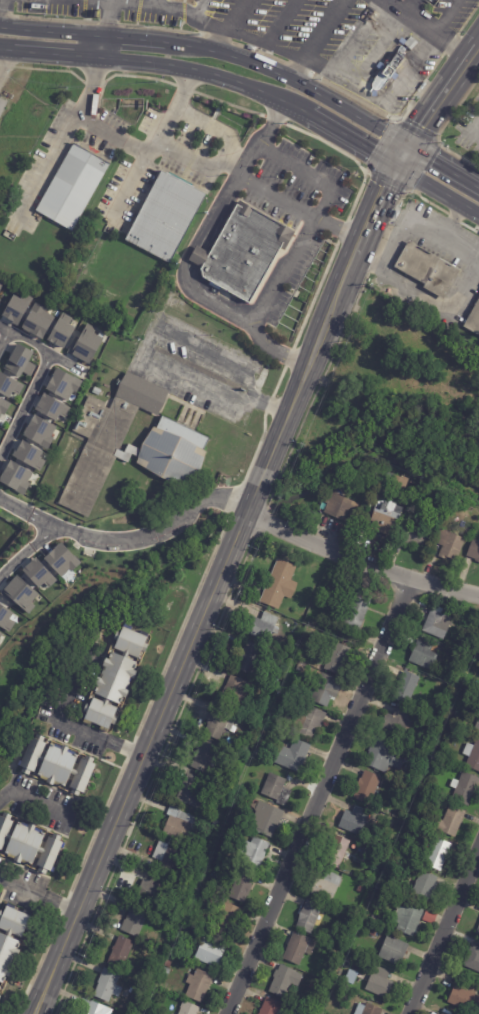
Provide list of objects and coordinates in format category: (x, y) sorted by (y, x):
road: (96, 1)
road: (411, 17)
road: (445, 17)
road: (110, 19)
road: (226, 24)
road: (316, 38)
road: (451, 46)
road: (478, 46)
road: (97, 48)
road: (214, 51)
road: (473, 53)
road: (6, 63)
road: (158, 64)
building: (393, 65)
road: (438, 101)
road: (474, 125)
traffic signals: (422, 126)
road: (349, 141)
road: (132, 143)
traffic signals: (368, 154)
road: (400, 155)
road: (198, 157)
traffic signals: (434, 158)
road: (439, 161)
road: (309, 175)
road: (474, 182)
traffic signals: (383, 185)
building: (72, 186)
road: (435, 191)
road: (286, 205)
building: (166, 216)
road: (370, 216)
road: (449, 221)
road: (417, 227)
road: (336, 232)
building: (244, 250)
road: (186, 264)
building: (428, 268)
building: (1, 284)
road: (422, 296)
building: (16, 308)
building: (473, 320)
building: (37, 321)
road: (3, 327)
building: (61, 331)
road: (22, 339)
building: (84, 344)
road: (278, 347)
road: (136, 358)
building: (19, 361)
road: (65, 364)
building: (62, 384)
building: (9, 385)
building: (96, 391)
road: (24, 405)
building: (3, 406)
building: (51, 407)
building: (39, 431)
building: (173, 445)
building: (28, 455)
building: (15, 477)
building: (391, 480)
building: (340, 506)
building: (472, 512)
building: (386, 518)
building: (414, 536)
road: (129, 539)
building: (450, 543)
building: (474, 550)
road: (27, 551)
building: (61, 560)
road: (361, 563)
building: (38, 573)
building: (280, 584)
building: (19, 594)
building: (356, 611)
building: (5, 618)
building: (438, 624)
building: (264, 626)
building: (0, 634)
road: (194, 642)
building: (0, 644)
building: (424, 655)
building: (249, 658)
building: (338, 658)
building: (116, 677)
building: (272, 678)
building: (406, 687)
building: (325, 690)
building: (235, 691)
building: (260, 715)
building: (272, 719)
building: (398, 720)
building: (309, 721)
building: (219, 723)
road: (82, 730)
building: (247, 745)
building: (446, 752)
building: (259, 753)
building: (292, 753)
building: (378, 753)
building: (473, 755)
building: (204, 756)
building: (235, 756)
building: (58, 765)
building: (367, 786)
building: (275, 787)
building: (464, 788)
building: (191, 791)
road: (315, 796)
building: (240, 799)
road: (33, 801)
building: (266, 819)
building: (355, 820)
building: (451, 821)
building: (180, 824)
building: (215, 824)
building: (386, 824)
building: (210, 837)
building: (173, 842)
building: (29, 844)
building: (336, 851)
building: (254, 853)
building: (368, 853)
building: (439, 854)
building: (410, 855)
building: (169, 859)
building: (327, 886)
road: (22, 887)
building: (242, 887)
building: (425, 887)
building: (153, 888)
building: (360, 891)
road: (60, 904)
building: (361, 915)
building: (309, 917)
building: (431, 917)
building: (228, 919)
building: (409, 919)
building: (134, 920)
building: (375, 920)
road: (444, 929)
building: (478, 932)
building: (373, 933)
building: (335, 936)
building: (183, 944)
building: (9, 945)
building: (300, 950)
building: (394, 951)
building: (121, 953)
building: (211, 953)
building: (473, 958)
building: (167, 964)
building: (165, 972)
building: (284, 981)
building: (379, 982)
building: (108, 985)
building: (199, 985)
building: (0, 988)
building: (0, 996)
building: (465, 997)
building: (93, 1007)
building: (272, 1007)
building: (189, 1009)
building: (368, 1009)
building: (323, 1010)
building: (439, 1013)

